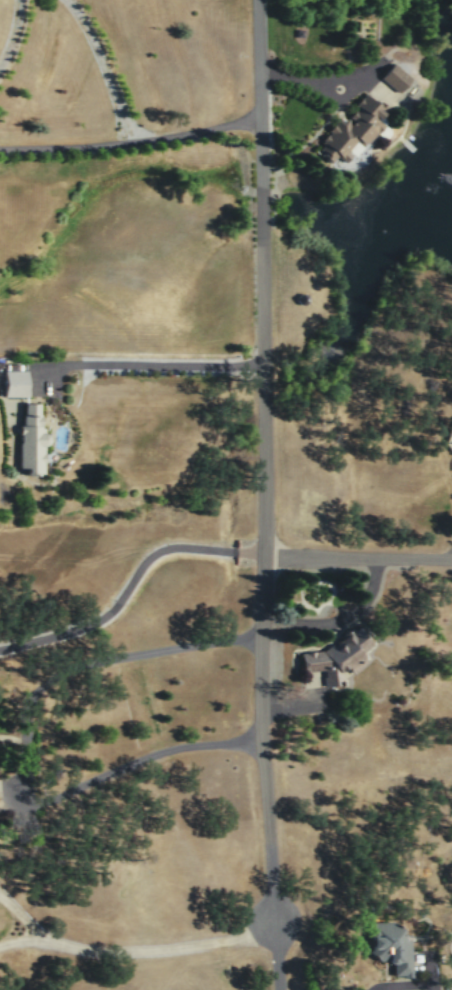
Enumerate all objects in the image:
road: (17, 41)
road: (109, 67)
building: (394, 77)
road: (327, 87)
building: (351, 133)
road: (134, 140)
road: (148, 363)
building: (14, 382)
building: (30, 440)
road: (269, 495)
road: (359, 555)
road: (129, 580)
road: (342, 616)
road: (190, 645)
building: (336, 656)
road: (295, 704)
road: (135, 760)
road: (24, 917)
road: (24, 939)
building: (391, 944)
road: (162, 949)
road: (400, 983)

